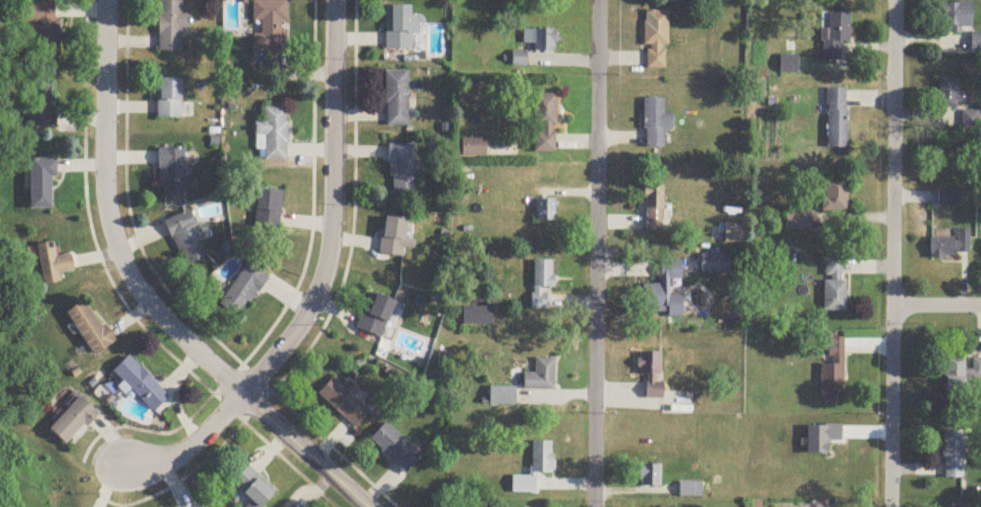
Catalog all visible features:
building: (955, 16)
building: (171, 26)
building: (45, 27)
building: (398, 28)
building: (270, 29)
building: (835, 36)
building: (539, 41)
building: (655, 41)
building: (976, 44)
building: (788, 65)
building: (951, 95)
building: (396, 99)
building: (169, 100)
building: (43, 106)
building: (836, 119)
building: (655, 123)
building: (544, 124)
building: (273, 135)
building: (473, 149)
building: (402, 170)
building: (173, 174)
building: (42, 185)
building: (834, 197)
building: (947, 198)
road: (352, 207)
building: (268, 209)
building: (653, 209)
building: (545, 211)
road: (131, 222)
building: (797, 222)
building: (394, 238)
road: (93, 239)
building: (187, 240)
building: (949, 247)
road: (595, 253)
road: (895, 253)
building: (715, 264)
building: (52, 265)
road: (319, 279)
building: (541, 284)
building: (834, 288)
road: (293, 291)
building: (243, 292)
building: (663, 293)
road: (145, 295)
road: (937, 308)
building: (376, 315)
building: (477, 317)
building: (89, 329)
building: (833, 371)
building: (651, 374)
building: (961, 377)
building: (541, 378)
building: (141, 385)
building: (496, 398)
building: (345, 402)
road: (256, 407)
building: (73, 423)
building: (395, 448)
road: (333, 449)
building: (953, 456)
building: (541, 460)
road: (288, 464)
building: (649, 477)
road: (181, 479)
building: (254, 489)
building: (690, 491)
building: (945, 506)

